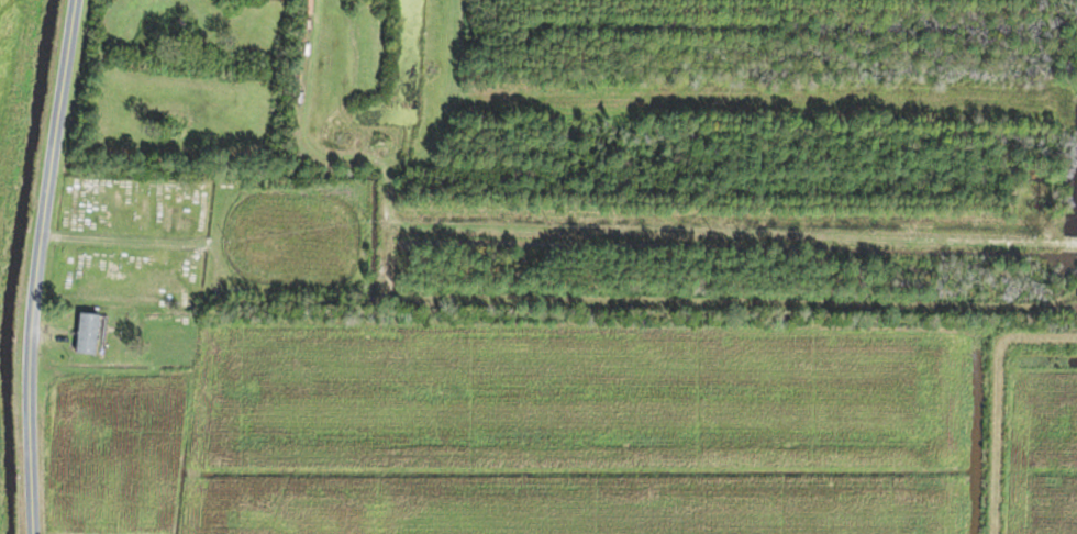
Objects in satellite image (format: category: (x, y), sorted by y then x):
road: (34, 265)
building: (86, 332)

